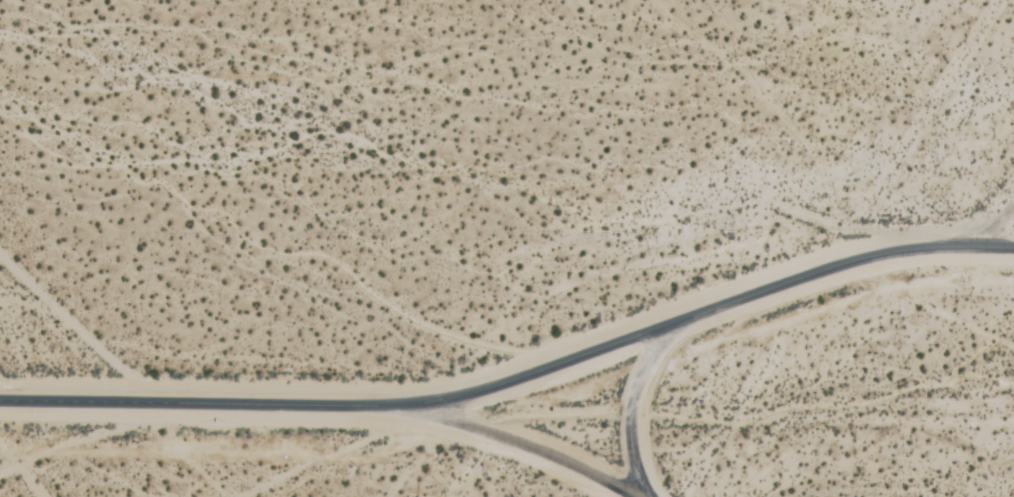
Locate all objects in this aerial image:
road: (984, 244)
road: (487, 384)
road: (629, 407)
road: (532, 444)

